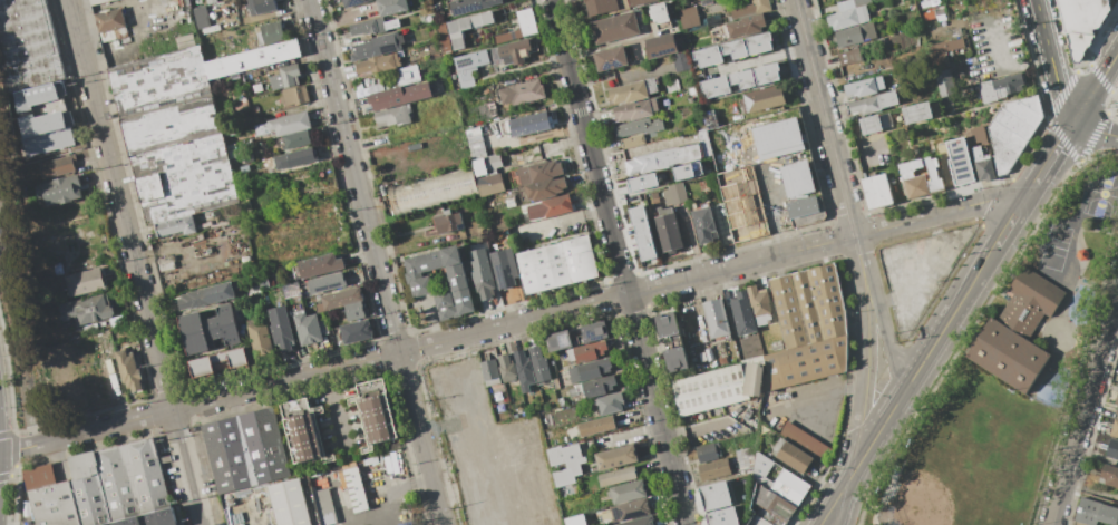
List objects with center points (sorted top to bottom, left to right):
building: (341, 0)
building: (1117, 0)
building: (98, 1)
building: (211, 1)
building: (874, 1)
building: (353, 2)
building: (640, 2)
building: (852, 3)
building: (1102, 4)
building: (471, 6)
building: (262, 7)
building: (391, 7)
building: (601, 7)
building: (750, 8)
building: (930, 14)
building: (659, 16)
building: (941, 16)
building: (202, 17)
building: (848, 17)
building: (688, 18)
building: (427, 19)
building: (109, 20)
building: (526, 22)
building: (392, 25)
building: (747, 25)
building: (1081, 25)
building: (364, 27)
building: (468, 27)
building: (614, 28)
building: (273, 32)
building: (855, 35)
building: (185, 41)
building: (661, 45)
building: (27, 46)
building: (748, 46)
building: (377, 47)
building: (944, 48)
building: (515, 51)
building: (708, 56)
building: (849, 57)
building: (611, 58)
building: (254, 59)
building: (681, 61)
road: (1053, 61)
building: (379, 64)
building: (470, 66)
road: (1004, 66)
building: (408, 75)
building: (285, 77)
building: (943, 77)
building: (739, 80)
building: (879, 82)
building: (672, 85)
building: (651, 86)
building: (862, 87)
building: (999, 87)
road: (1095, 88)
building: (523, 93)
building: (629, 93)
building: (295, 95)
building: (399, 95)
building: (35, 97)
building: (765, 98)
building: (873, 103)
building: (633, 110)
building: (917, 113)
building: (392, 116)
road: (824, 118)
building: (876, 123)
building: (290, 124)
building: (529, 124)
traffic signals: (1072, 124)
building: (639, 127)
road: (1095, 129)
building: (1013, 130)
building: (45, 133)
building: (979, 133)
building: (174, 135)
building: (777, 138)
building: (298, 139)
building: (633, 140)
building: (477, 145)
building: (729, 147)
building: (689, 153)
building: (673, 155)
building: (295, 158)
building: (662, 159)
building: (959, 161)
building: (493, 163)
road: (1048, 163)
building: (642, 164)
building: (983, 165)
building: (57, 167)
building: (687, 171)
building: (539, 172)
building: (388, 173)
building: (920, 177)
building: (796, 178)
building: (641, 183)
building: (490, 184)
building: (545, 188)
building: (60, 189)
building: (877, 191)
building: (434, 192)
building: (674, 194)
park: (1102, 195)
building: (743, 204)
building: (557, 205)
building: (801, 213)
building: (448, 222)
road: (1049, 223)
building: (703, 225)
road: (774, 225)
building: (176, 226)
building: (668, 230)
building: (642, 233)
parking lot: (4, 244)
road: (857, 253)
road: (991, 253)
railway: (858, 261)
road: (135, 262)
road: (377, 262)
road: (621, 262)
building: (320, 264)
building: (557, 264)
building: (165, 266)
building: (505, 268)
parking lot: (920, 271)
building: (484, 281)
building: (85, 282)
building: (325, 282)
building: (421, 283)
road: (911, 286)
building: (206, 295)
building: (341, 299)
road: (1069, 300)
building: (760, 304)
building: (86, 309)
building: (356, 311)
building: (742, 312)
building: (717, 318)
road: (512, 323)
building: (668, 324)
building: (307, 327)
building: (323, 327)
building: (808, 327)
building: (208, 329)
building: (282, 329)
road: (885, 330)
building: (596, 331)
building: (357, 332)
building: (1018, 332)
building: (260, 338)
road: (21, 340)
building: (560, 341)
road: (930, 348)
building: (587, 352)
building: (677, 359)
building: (220, 362)
building: (538, 364)
building: (507, 369)
building: (129, 370)
building: (590, 370)
building: (524, 371)
building: (490, 372)
road: (866, 377)
park: (1010, 380)
building: (721, 386)
building: (597, 387)
road: (824, 396)
building: (1117, 399)
building: (610, 404)
building: (1117, 410)
road: (1083, 411)
building: (375, 412)
road: (13, 422)
building: (597, 426)
building: (1115, 429)
building: (304, 430)
road: (8, 435)
road: (874, 438)
building: (805, 441)
building: (487, 444)
building: (264, 446)
building: (1112, 449)
building: (707, 453)
building: (226, 455)
building: (791, 456)
building: (616, 457)
road: (0, 458)
building: (746, 460)
building: (565, 463)
building: (714, 469)
building: (1109, 475)
building: (38, 476)
building: (148, 476)
building: (616, 476)
building: (779, 477)
road: (8, 478)
building: (118, 483)
park: (946, 483)
building: (356, 489)
building: (88, 490)
building: (628, 492)
building: (723, 494)
building: (769, 499)
building: (290, 503)
building: (54, 504)
road: (833, 504)
road: (843, 504)
building: (325, 506)
crop: (518, 509)
building: (629, 511)
building: (1096, 513)
building: (167, 516)
building: (722, 517)
building: (149, 518)
building: (132, 521)
building: (638, 521)
building: (755, 521)
building: (568, 522)
building: (116, 523)

